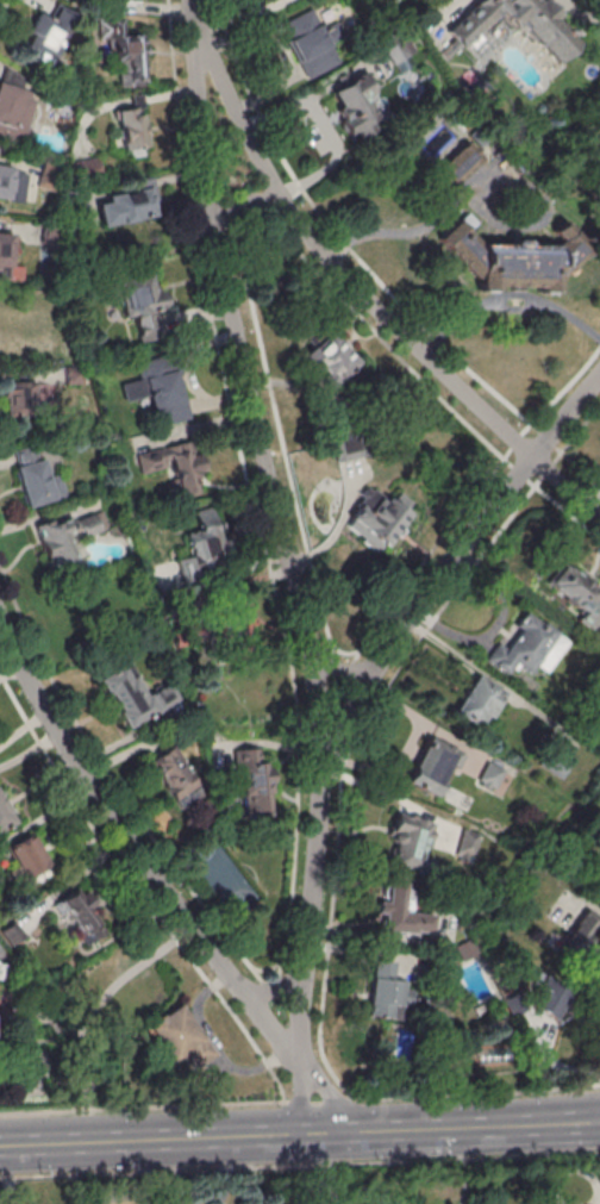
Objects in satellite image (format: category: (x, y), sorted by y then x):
building: (519, 24)
building: (42, 36)
building: (313, 44)
building: (131, 60)
building: (356, 108)
building: (15, 111)
building: (132, 130)
building: (458, 163)
building: (85, 169)
building: (48, 175)
building: (12, 183)
road: (239, 204)
building: (125, 206)
building: (6, 251)
building: (511, 258)
road: (354, 288)
building: (144, 305)
building: (329, 360)
building: (160, 391)
building: (18, 401)
building: (176, 466)
building: (36, 479)
road: (589, 492)
building: (375, 519)
road: (277, 528)
building: (205, 537)
building: (68, 538)
road: (451, 563)
building: (575, 592)
building: (529, 647)
road: (338, 669)
building: (136, 697)
building: (480, 701)
building: (432, 765)
building: (171, 773)
building: (489, 776)
building: (252, 784)
building: (5, 819)
building: (410, 840)
building: (462, 842)
road: (133, 851)
building: (27, 860)
road: (139, 890)
building: (400, 911)
building: (81, 916)
building: (13, 935)
building: (1, 971)
building: (383, 991)
road: (271, 992)
building: (550, 1004)
road: (75, 1036)
building: (180, 1041)
road: (327, 1091)
road: (301, 1096)
road: (477, 1096)
road: (319, 1102)
road: (140, 1104)
road: (482, 1127)
road: (181, 1139)
road: (300, 1167)

